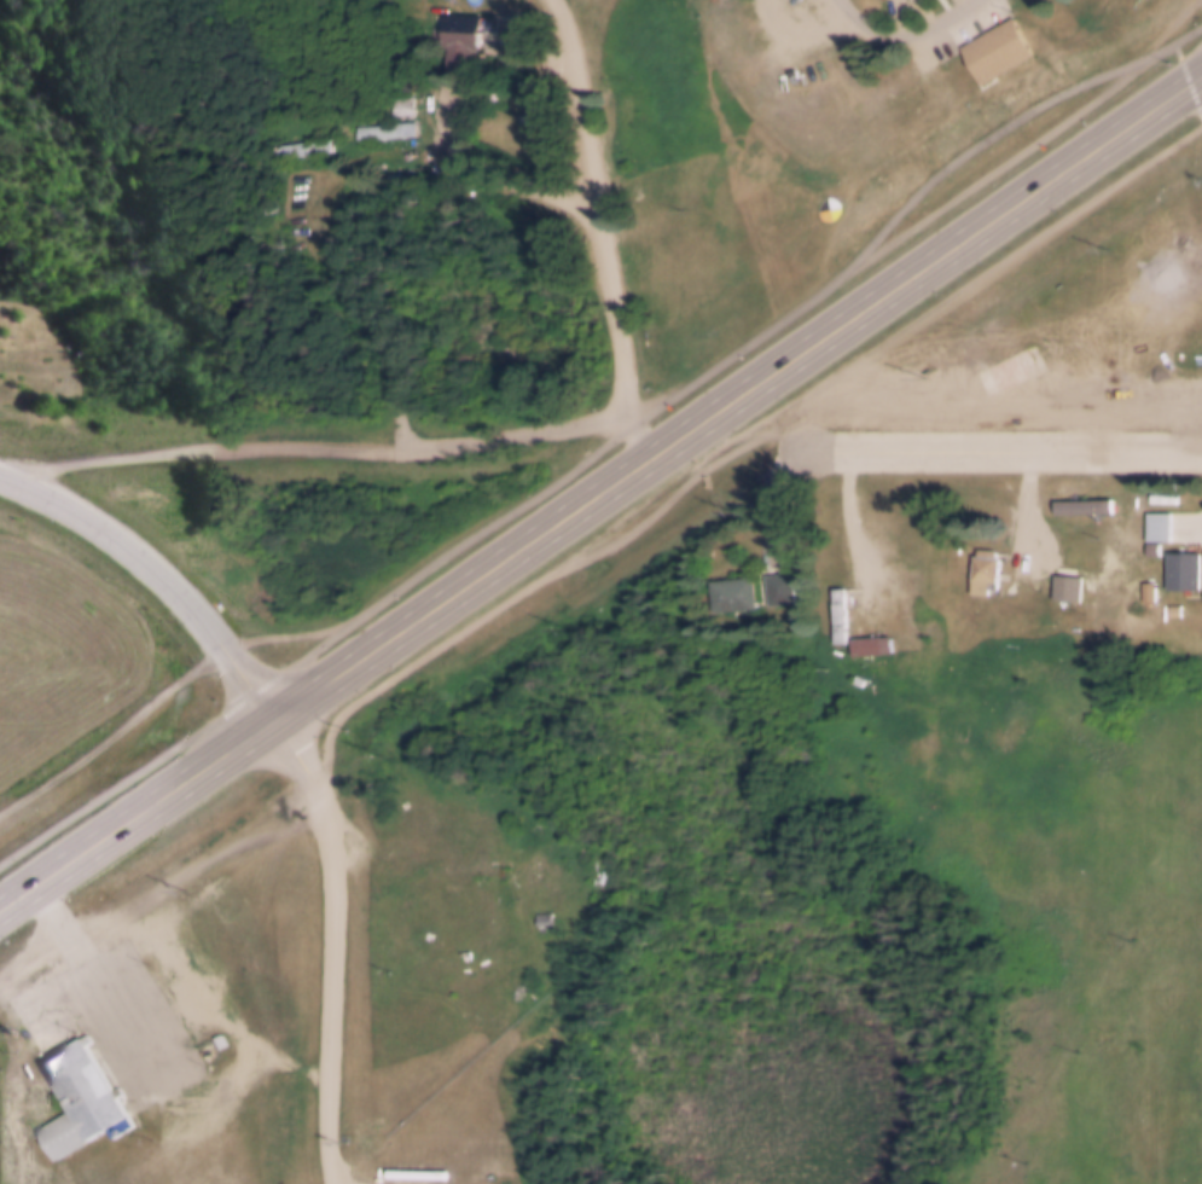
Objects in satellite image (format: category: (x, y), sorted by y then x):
building: (885, 0)
building: (461, 36)
road: (902, 40)
building: (994, 47)
building: (401, 104)
building: (385, 127)
building: (297, 145)
road: (488, 175)
building: (261, 198)
road: (600, 211)
road: (364, 315)
road: (779, 370)
building: (1006, 375)
road: (540, 434)
road: (1005, 447)
road: (605, 448)
road: (204, 449)
building: (1082, 503)
road: (1034, 518)
building: (1157, 523)
road: (858, 536)
building: (986, 564)
building: (1184, 567)
road: (157, 576)
building: (779, 584)
building: (1067, 585)
building: (733, 590)
building: (1148, 590)
building: (870, 643)
building: (860, 677)
road: (178, 789)
building: (387, 916)
road: (338, 944)
road: (98, 988)
building: (82, 1103)

